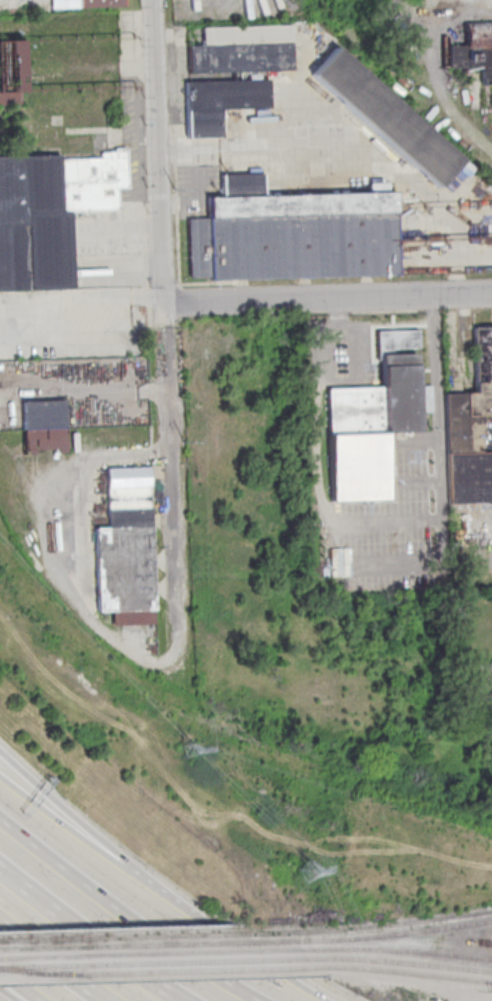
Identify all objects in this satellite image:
building: (87, 4)
building: (243, 50)
building: (475, 51)
building: (10, 72)
building: (220, 104)
building: (385, 120)
building: (49, 215)
building: (292, 236)
road: (80, 297)
road: (326, 298)
road: (163, 334)
road: (82, 386)
building: (473, 405)
building: (372, 418)
building: (43, 425)
road: (438, 460)
building: (469, 480)
road: (84, 495)
building: (126, 547)
building: (482, 679)
power tower: (191, 748)
road: (97, 829)
road: (95, 846)
power tower: (307, 871)
road: (137, 906)
railway: (372, 925)
road: (98, 931)
railway: (380, 933)
railway: (126, 935)
railway: (133, 944)
railway: (387, 948)
railway: (141, 952)
road: (62, 956)
road: (269, 956)
railway: (360, 958)
railway: (148, 961)
railway: (458, 967)
railway: (15, 968)
railway: (155, 970)
railway: (402, 970)
railway: (55, 972)
road: (26, 979)
road: (15, 993)

